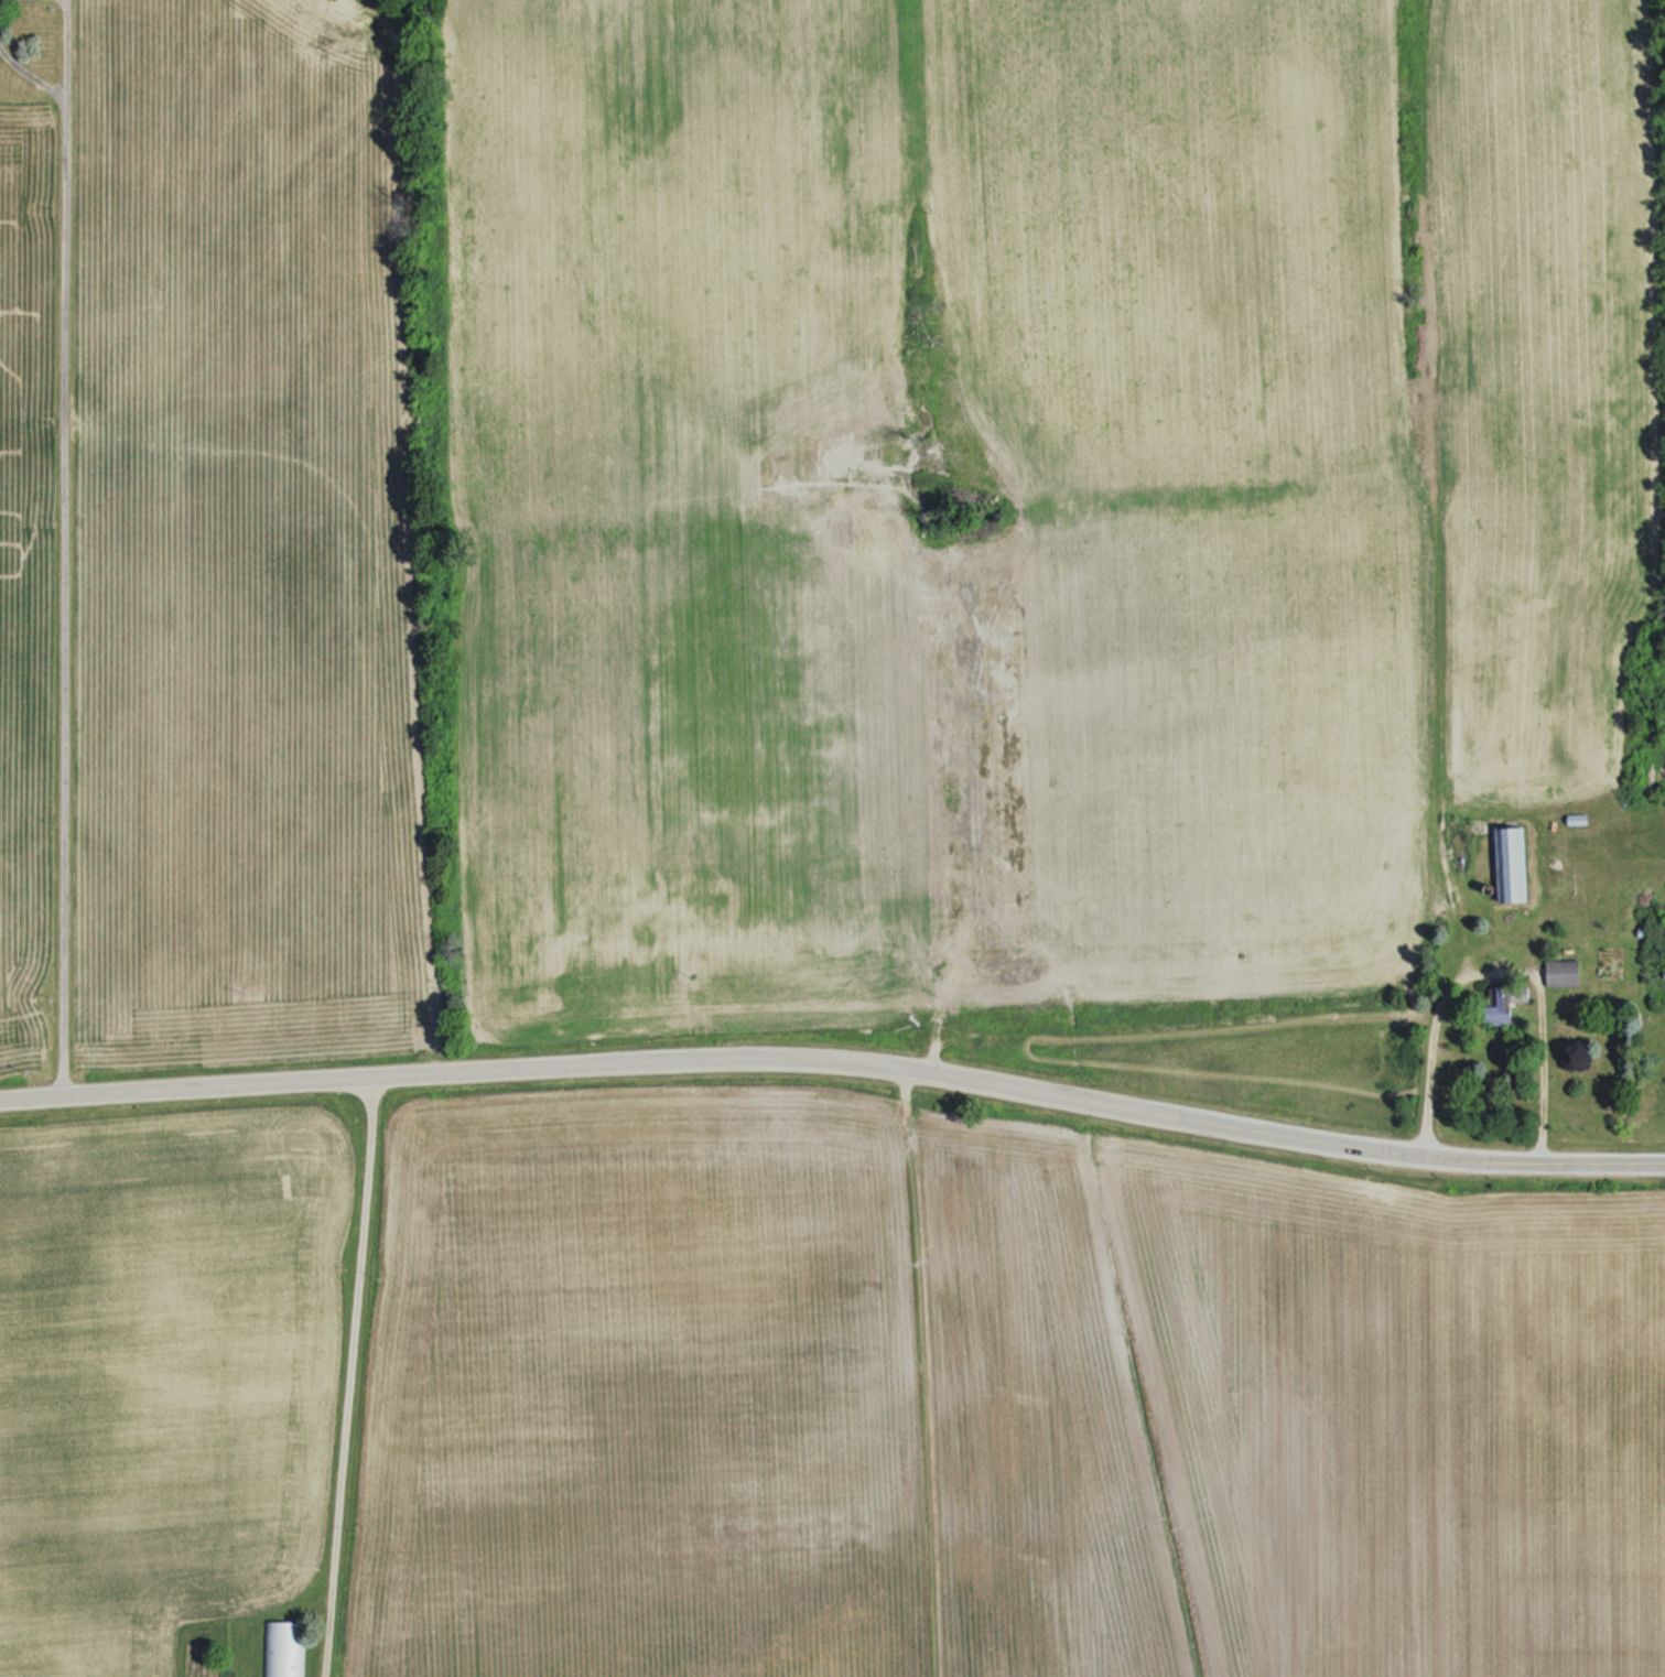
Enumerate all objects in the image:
road: (67, 46)
road: (31, 68)
road: (63, 595)
building: (1461, 833)
building: (1513, 865)
road: (1488, 964)
building: (1563, 972)
building: (1507, 1003)
road: (721, 1059)
road: (1549, 1165)
road: (342, 1377)
building: (282, 1648)

